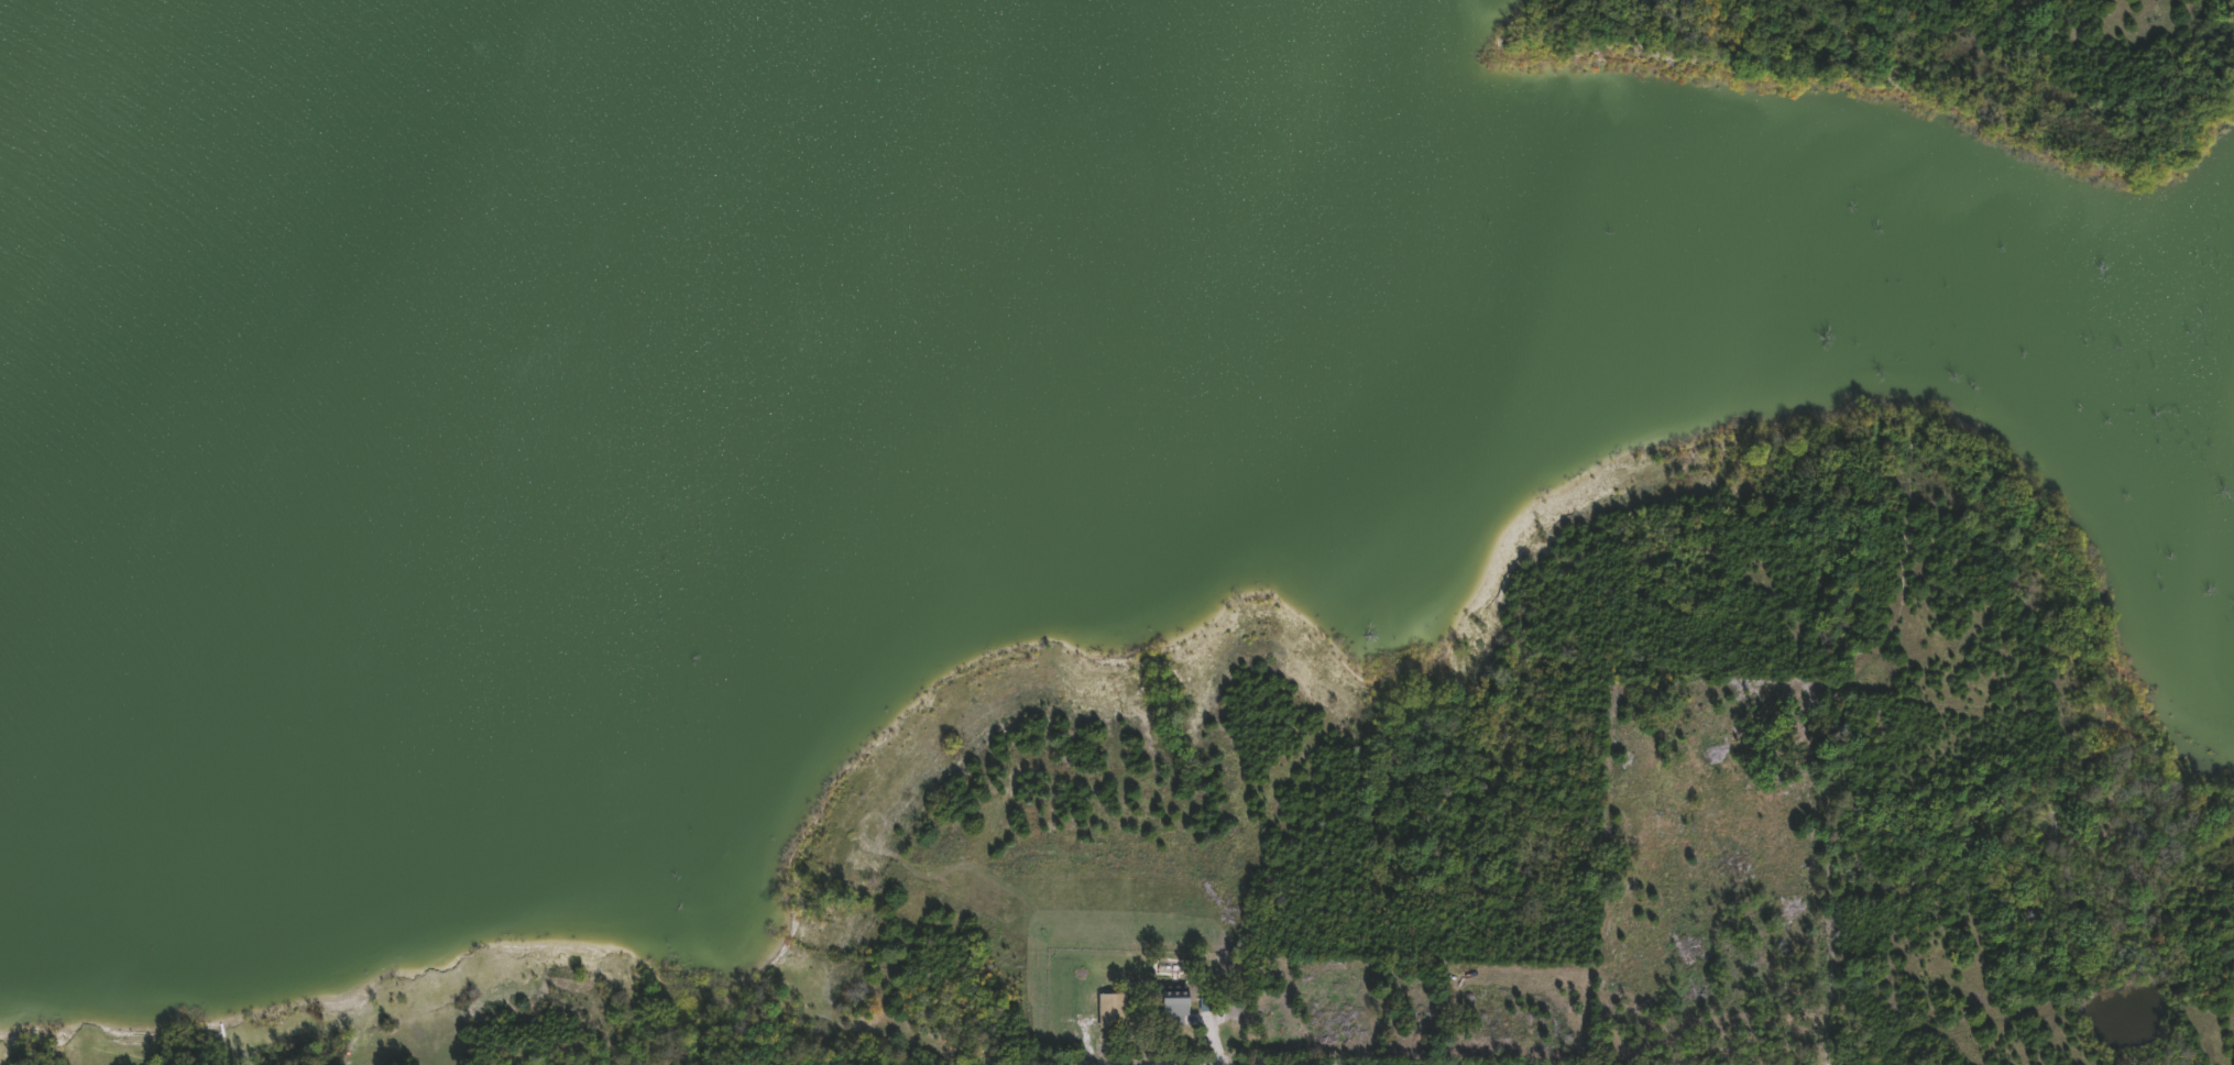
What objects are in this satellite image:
park: (2004, 48)
road: (1868, 932)
building: (1168, 999)
building: (1103, 1011)
road: (1125, 1064)

